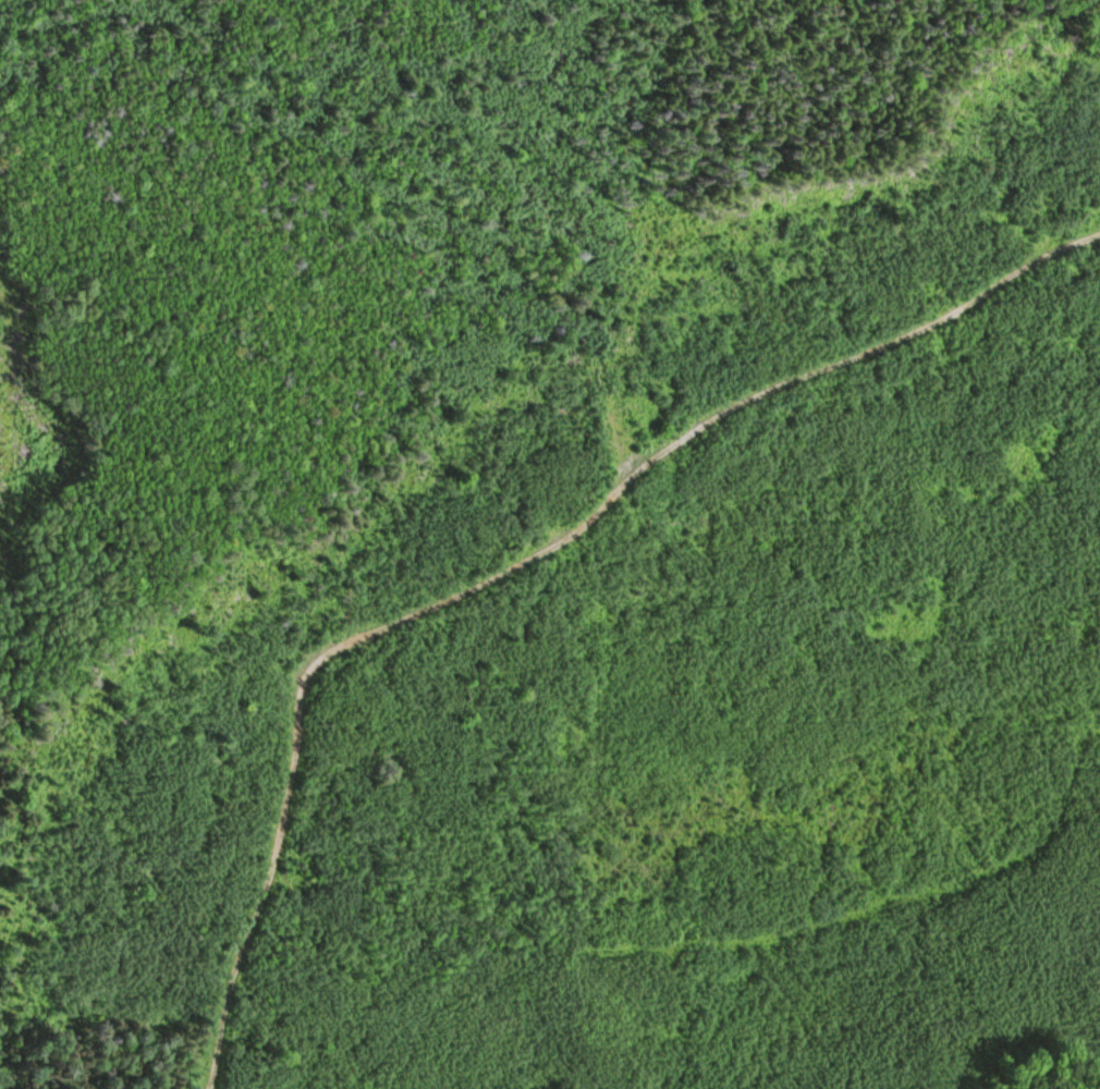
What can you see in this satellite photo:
road: (523, 568)

